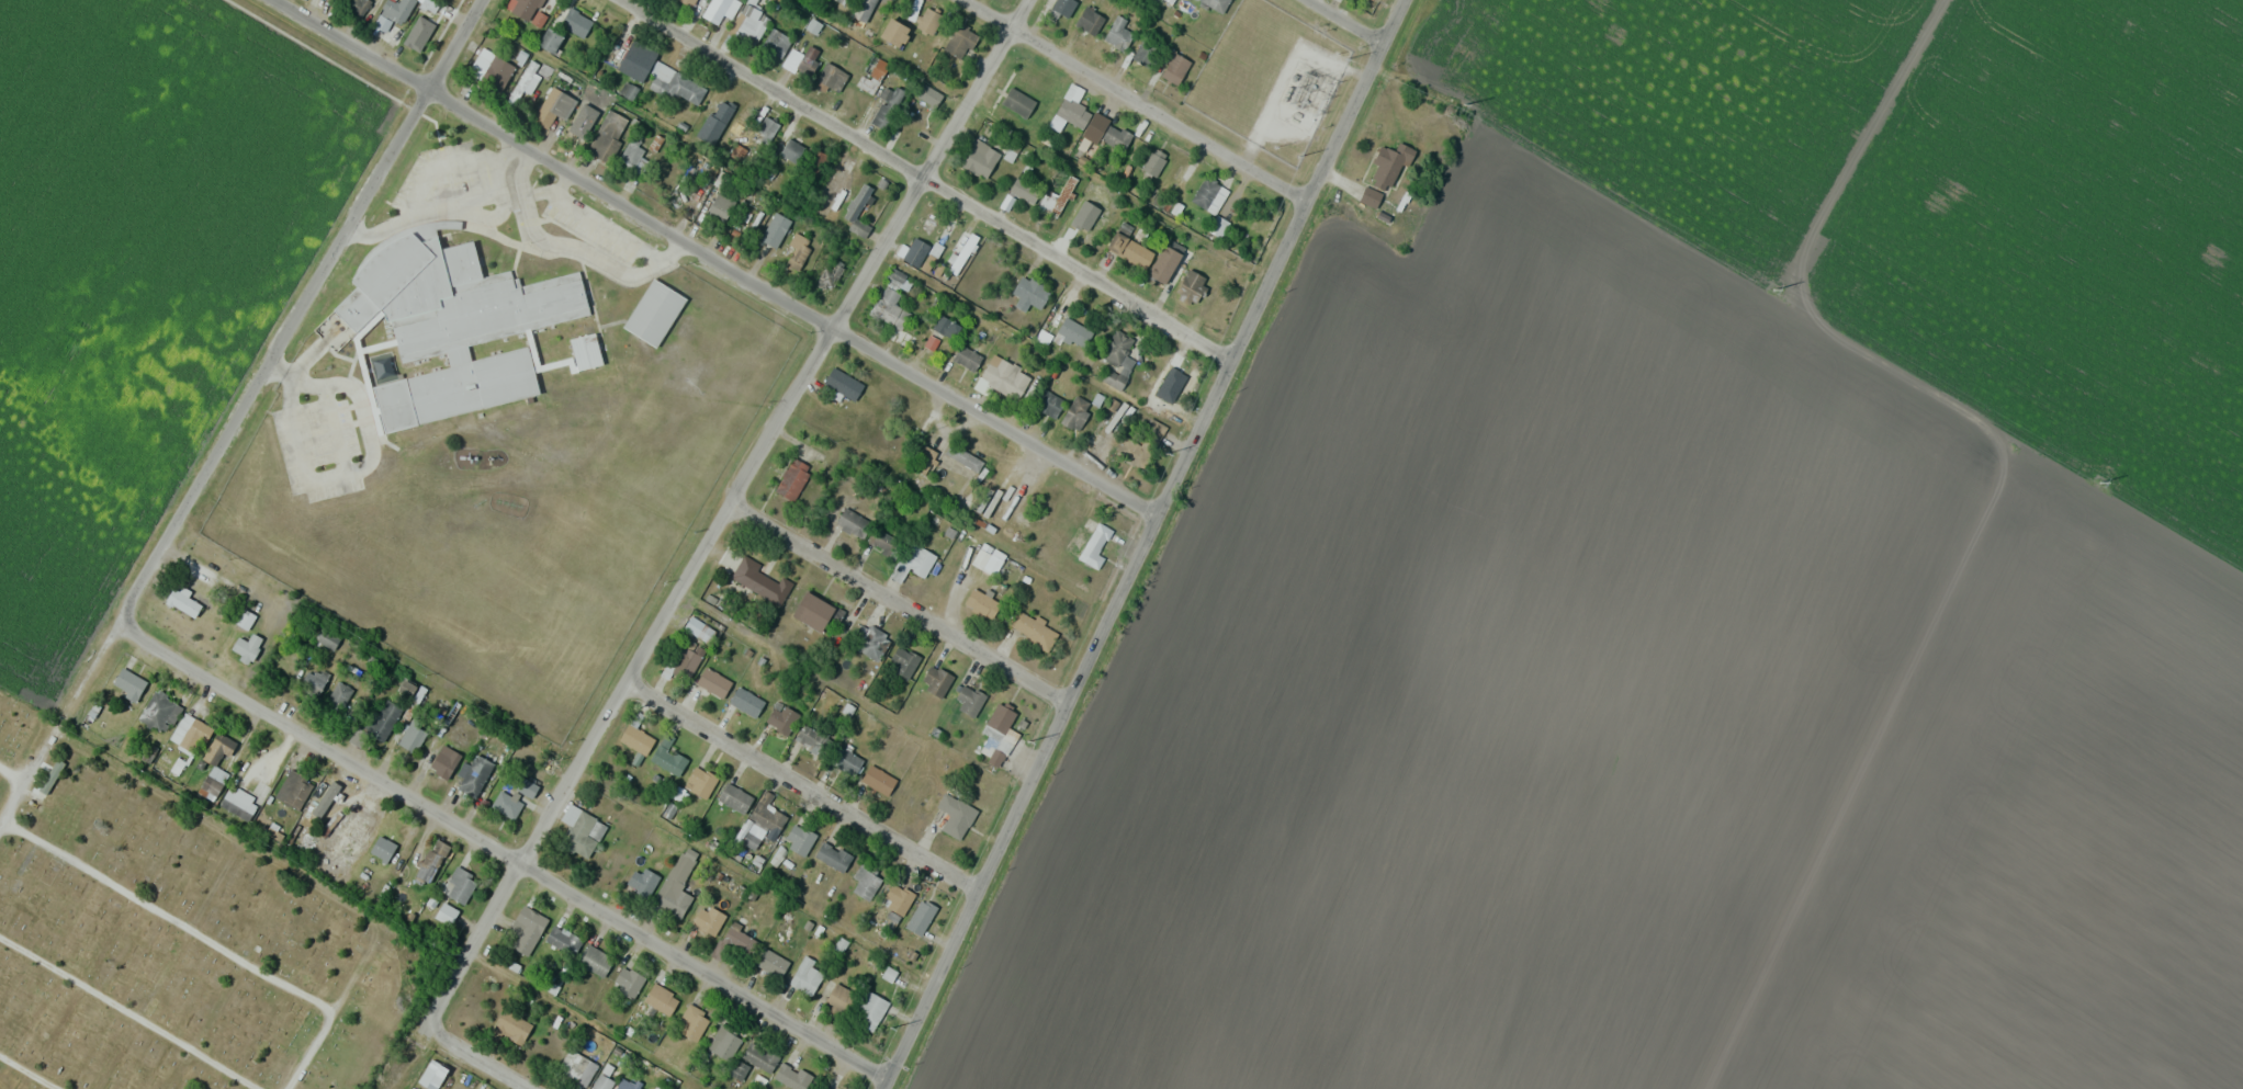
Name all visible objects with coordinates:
building: (689, 2)
building: (430, 4)
building: (1216, 4)
building: (865, 5)
building: (1060, 7)
building: (357, 8)
building: (525, 8)
building: (719, 9)
building: (393, 13)
building: (928, 19)
building: (1090, 20)
road: (1350, 22)
building: (576, 23)
building: (748, 24)
building: (422, 30)
building: (894, 32)
building: (1118, 34)
building: (550, 41)
building: (776, 42)
building: (959, 42)
building: (1145, 54)
building: (807, 58)
power tower: (1345, 58)
building: (635, 61)
building: (1174, 68)
building: (491, 69)
building: (871, 73)
building: (832, 76)
power substation: (1271, 77)
building: (677, 84)
building: (928, 95)
road: (1138, 100)
building: (589, 102)
building: (1018, 102)
power tower: (1467, 103)
building: (553, 106)
building: (888, 106)
building: (1070, 110)
building: (723, 111)
building: (765, 129)
building: (608, 135)
building: (1116, 136)
building: (791, 149)
road: (1853, 149)
power tower: (1298, 157)
building: (632, 158)
building: (980, 158)
building: (1153, 161)
building: (1390, 162)
road: (1549, 169)
road: (929, 180)
building: (1025, 189)
building: (1059, 193)
building: (1093, 194)
building: (1209, 194)
building: (717, 204)
building: (857, 209)
building: (774, 229)
building: (1129, 249)
building: (797, 256)
road: (1284, 257)
building: (1169, 260)
road: (713, 262)
building: (830, 274)
building: (1199, 287)
power tower: (1774, 288)
building: (1027, 293)
building: (890, 300)
building: (506, 303)
building: (655, 317)
building: (946, 326)
building: (1073, 330)
road: (270, 354)
building: (585, 355)
building: (967, 356)
building: (1117, 359)
building: (1005, 375)
building: (1176, 379)
building: (843, 383)
building: (459, 387)
building: (1048, 402)
building: (1075, 412)
power tower: (1164, 454)
building: (963, 456)
building: (923, 457)
building: (792, 478)
power tower: (2103, 483)
road: (729, 510)
building: (853, 522)
building: (881, 541)
building: (1095, 545)
building: (912, 561)
building: (992, 561)
building: (758, 580)
building: (981, 603)
building: (183, 604)
road: (900, 606)
road: (1115, 611)
building: (816, 612)
building: (244, 622)
building: (699, 628)
building: (1032, 628)
building: (327, 638)
building: (870, 642)
building: (248, 646)
building: (686, 661)
building: (903, 661)
building: (936, 680)
building: (313, 681)
building: (713, 682)
building: (128, 685)
building: (338, 696)
building: (969, 700)
building: (746, 702)
building: (159, 715)
building: (383, 718)
building: (785, 719)
building: (1000, 731)
building: (412, 736)
building: (190, 737)
building: (636, 739)
building: (812, 740)
power tower: (1028, 742)
building: (223, 752)
building: (667, 757)
building: (846, 760)
building: (443, 761)
road: (32, 765)
road: (11, 773)
building: (475, 775)
building: (48, 780)
building: (878, 780)
building: (700, 781)
road: (802, 789)
building: (290, 791)
building: (514, 795)
building: (734, 797)
building: (326, 803)
building: (238, 807)
building: (767, 814)
building: (955, 815)
building: (332, 826)
building: (581, 831)
building: (752, 836)
building: (799, 839)
road: (500, 844)
building: (382, 851)
building: (833, 855)
building: (431, 865)
building: (643, 881)
building: (865, 882)
building: (388, 883)
building: (676, 884)
building: (460, 885)
road: (978, 896)
building: (898, 899)
road: (167, 914)
building: (447, 916)
building: (921, 917)
building: (708, 920)
building: (527, 929)
park: (176, 937)
building: (563, 940)
building: (595, 961)
building: (771, 963)
building: (807, 975)
building: (628, 982)
building: (661, 999)
building: (839, 1000)
road: (128, 1012)
building: (869, 1012)
building: (692, 1022)
building: (514, 1025)
power tower: (890, 1031)
building: (728, 1040)
road: (309, 1048)
building: (759, 1057)
road: (488, 1058)
building: (577, 1067)
road: (30, 1071)
building: (432, 1075)
building: (791, 1076)
building: (610, 1082)

